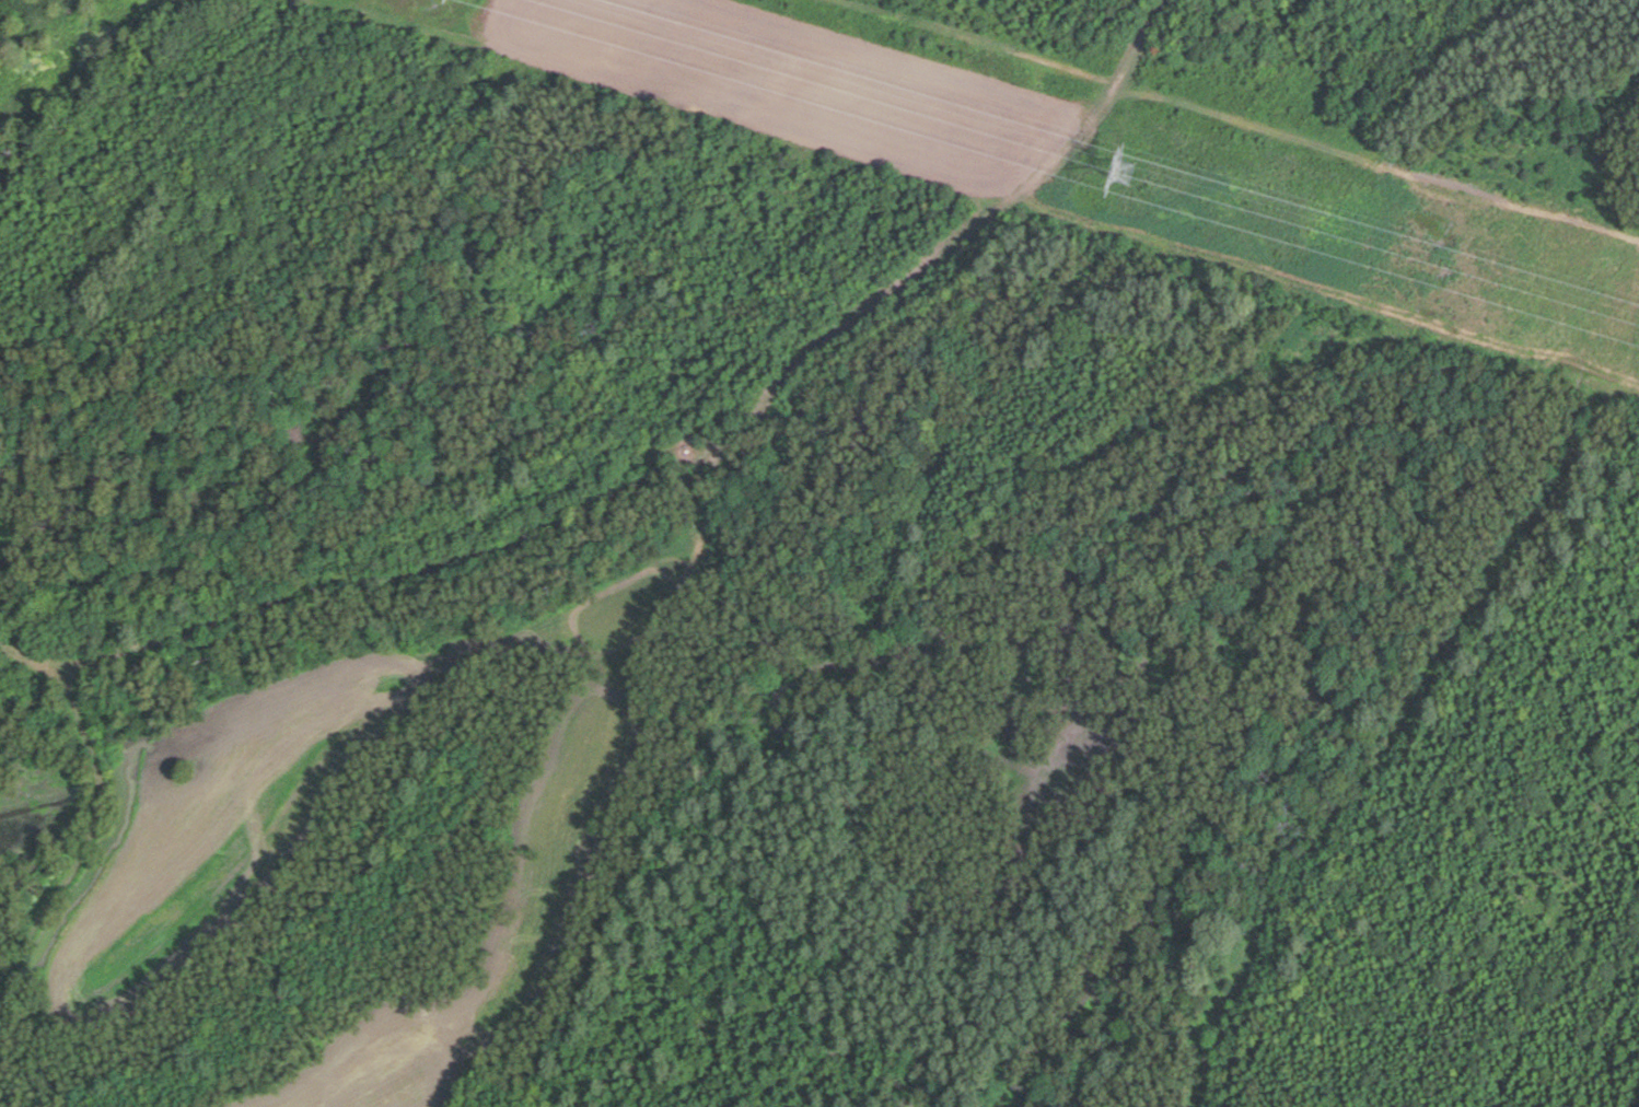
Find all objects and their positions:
power tower: (1127, 171)

